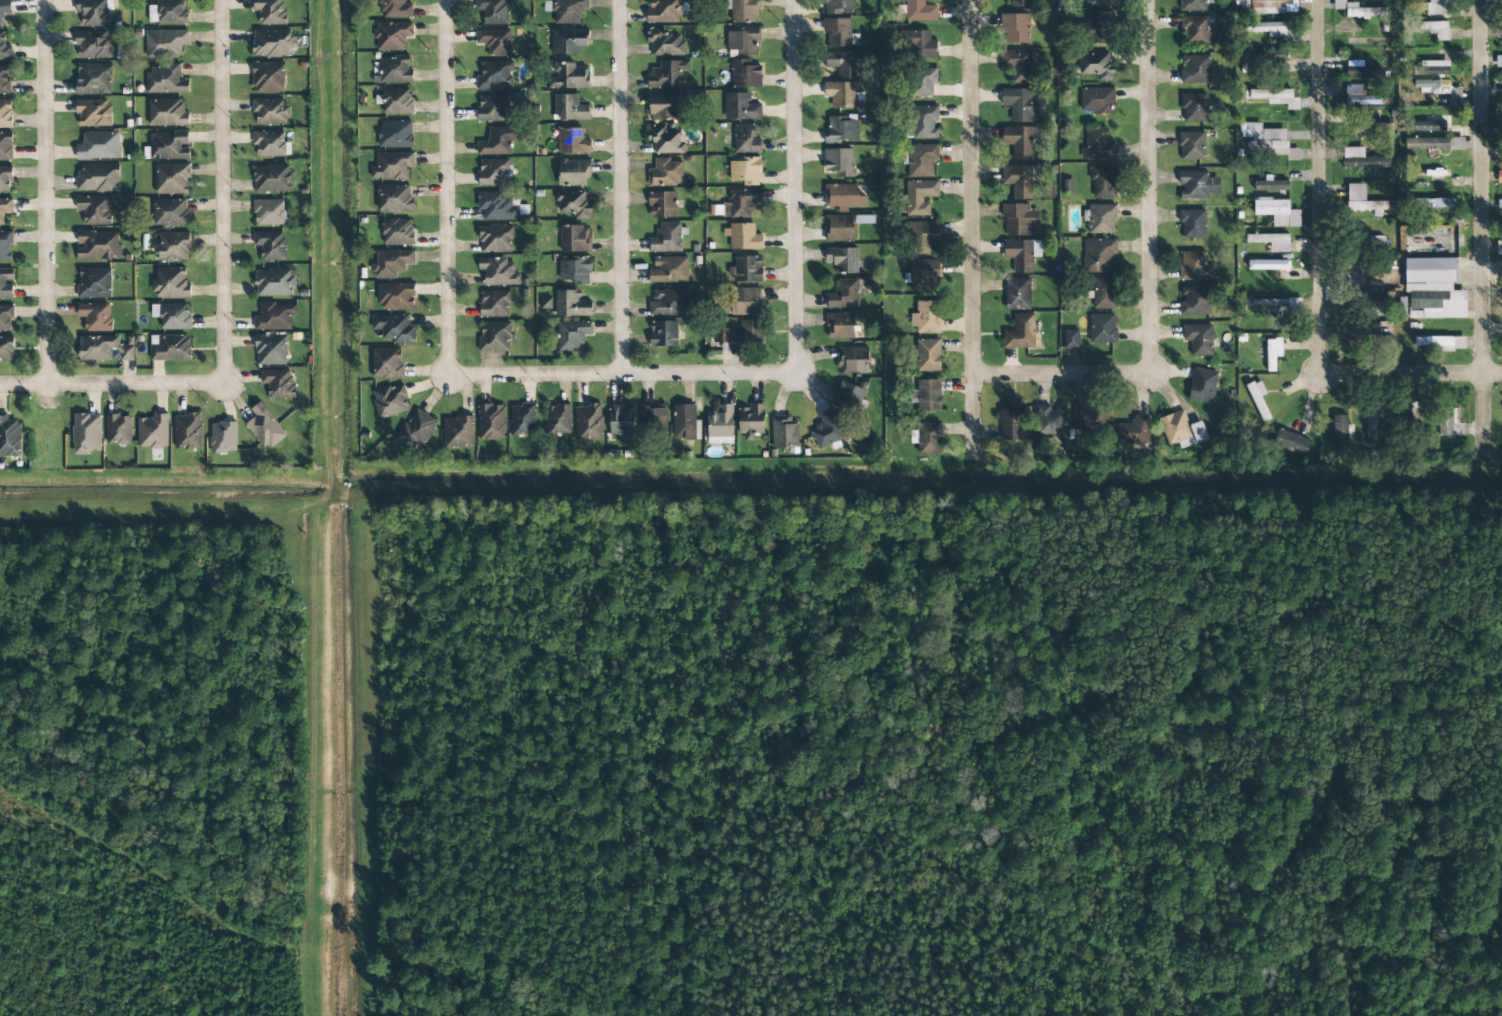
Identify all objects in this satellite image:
building: (1100, 2)
building: (1019, 3)
building: (1195, 5)
building: (840, 6)
building: (1273, 6)
building: (1435, 7)
building: (4, 9)
building: (395, 9)
building: (743, 10)
building: (1357, 10)
building: (269, 11)
building: (493, 11)
building: (568, 11)
building: (664, 11)
building: (920, 11)
building: (94, 12)
building: (170, 12)
building: (1097, 27)
building: (1015, 28)
building: (1431, 28)
building: (1195, 29)
building: (1269, 29)
building: (1498, 31)
building: (392, 36)
building: (495, 41)
building: (568, 41)
building: (743, 41)
building: (165, 43)
building: (271, 43)
building: (664, 43)
building: (92, 44)
building: (921, 44)
building: (4, 48)
building: (1498, 61)
building: (843, 63)
building: (1017, 65)
building: (1096, 66)
building: (1429, 68)
building: (1195, 69)
building: (394, 70)
building: (1361, 71)
building: (667, 74)
building: (745, 74)
building: (495, 75)
building: (268, 77)
building: (569, 77)
building: (5, 79)
building: (93, 79)
building: (165, 80)
building: (923, 82)
building: (1430, 85)
building: (1452, 93)
building: (841, 94)
building: (1359, 96)
building: (1276, 97)
building: (1097, 100)
building: (396, 101)
building: (1022, 104)
building: (663, 107)
building: (740, 107)
building: (1193, 107)
building: (492, 108)
building: (570, 108)
building: (93, 112)
building: (270, 112)
building: (167, 113)
building: (5, 114)
building: (925, 122)
building: (1426, 126)
building: (1370, 128)
building: (841, 129)
building: (395, 134)
building: (665, 139)
building: (746, 139)
building: (1267, 140)
building: (497, 141)
building: (572, 141)
building: (1020, 141)
building: (270, 144)
building: (1442, 144)
building: (1098, 145)
building: (1191, 145)
building: (6, 146)
building: (98, 146)
building: (168, 146)
building: (1359, 158)
building: (922, 160)
building: (839, 162)
building: (392, 166)
building: (746, 170)
building: (493, 172)
building: (573, 172)
building: (666, 173)
building: (1432, 174)
building: (1499, 176)
building: (5, 178)
building: (98, 178)
building: (172, 178)
building: (272, 178)
building: (1018, 181)
building: (1103, 182)
building: (1270, 184)
road: (795, 185)
building: (1197, 185)
road: (444, 187)
road: (623, 187)
road: (45, 192)
road: (1148, 192)
road: (226, 193)
building: (843, 197)
building: (920, 197)
road: (1319, 197)
building: (394, 199)
building: (1361, 200)
building: (741, 203)
building: (1427, 203)
building: (573, 204)
building: (1499, 204)
building: (662, 205)
building: (496, 207)
building: (5, 208)
building: (94, 210)
building: (170, 212)
building: (268, 212)
building: (1277, 212)
building: (1019, 219)
building: (1100, 219)
building: (1192, 223)
building: (839, 228)
road: (972, 229)
road: (1482, 229)
building: (397, 232)
building: (742, 237)
building: (923, 237)
building: (575, 238)
building: (666, 238)
building: (495, 239)
building: (1271, 241)
building: (98, 245)
building: (270, 245)
building: (6, 246)
building: (173, 247)
building: (1366, 247)
building: (1499, 247)
building: (1022, 254)
building: (1099, 256)
building: (842, 260)
building: (392, 263)
building: (1268, 265)
building: (1195, 266)
building: (748, 269)
building: (575, 270)
building: (669, 270)
building: (1427, 271)
building: (498, 272)
building: (924, 275)
building: (6, 282)
building: (274, 282)
building: (94, 283)
building: (171, 283)
building: (1103, 293)
building: (844, 294)
building: (1017, 294)
building: (395, 296)
building: (1194, 300)
building: (746, 301)
building: (669, 302)
building: (1264, 303)
building: (494, 304)
building: (571, 304)
building: (1293, 304)
building: (1435, 305)
building: (1375, 307)
building: (95, 316)
building: (172, 316)
building: (275, 316)
building: (926, 317)
building: (6, 318)
building: (840, 325)
building: (1378, 327)
building: (394, 328)
building: (1102, 328)
building: (1019, 332)
building: (746, 333)
building: (663, 334)
building: (572, 335)
building: (494, 337)
building: (1070, 339)
building: (1199, 339)
building: (1440, 341)
building: (170, 348)
building: (6, 349)
building: (104, 349)
building: (270, 350)
building: (1273, 353)
building: (928, 355)
building: (853, 360)
building: (387, 363)
road: (621, 374)
road: (1052, 374)
road: (1424, 374)
building: (278, 383)
road: (23, 385)
road: (136, 385)
building: (1202, 386)
building: (849, 395)
building: (926, 395)
building: (1257, 397)
building: (390, 401)
building: (1088, 416)
building: (653, 418)
building: (522, 419)
building: (558, 419)
building: (1050, 420)
building: (1370, 420)
building: (1414, 420)
building: (1449, 420)
building: (621, 421)
building: (751, 421)
building: (491, 422)
building: (588, 422)
building: (1010, 423)
building: (720, 426)
building: (264, 427)
building: (118, 429)
building: (417, 429)
building: (826, 430)
building: (1181, 430)
building: (1339, 430)
building: (153, 431)
building: (1134, 431)
building: (187, 432)
building: (457, 432)
building: (784, 432)
building: (86, 433)
building: (10, 437)
building: (223, 437)
building: (1289, 441)

